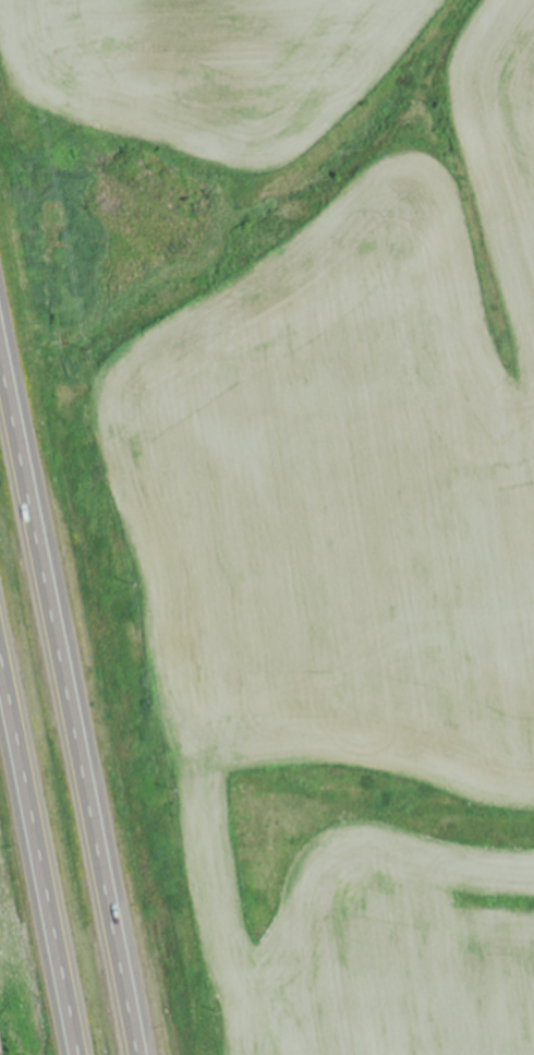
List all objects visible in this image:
road: (69, 705)
road: (39, 847)

